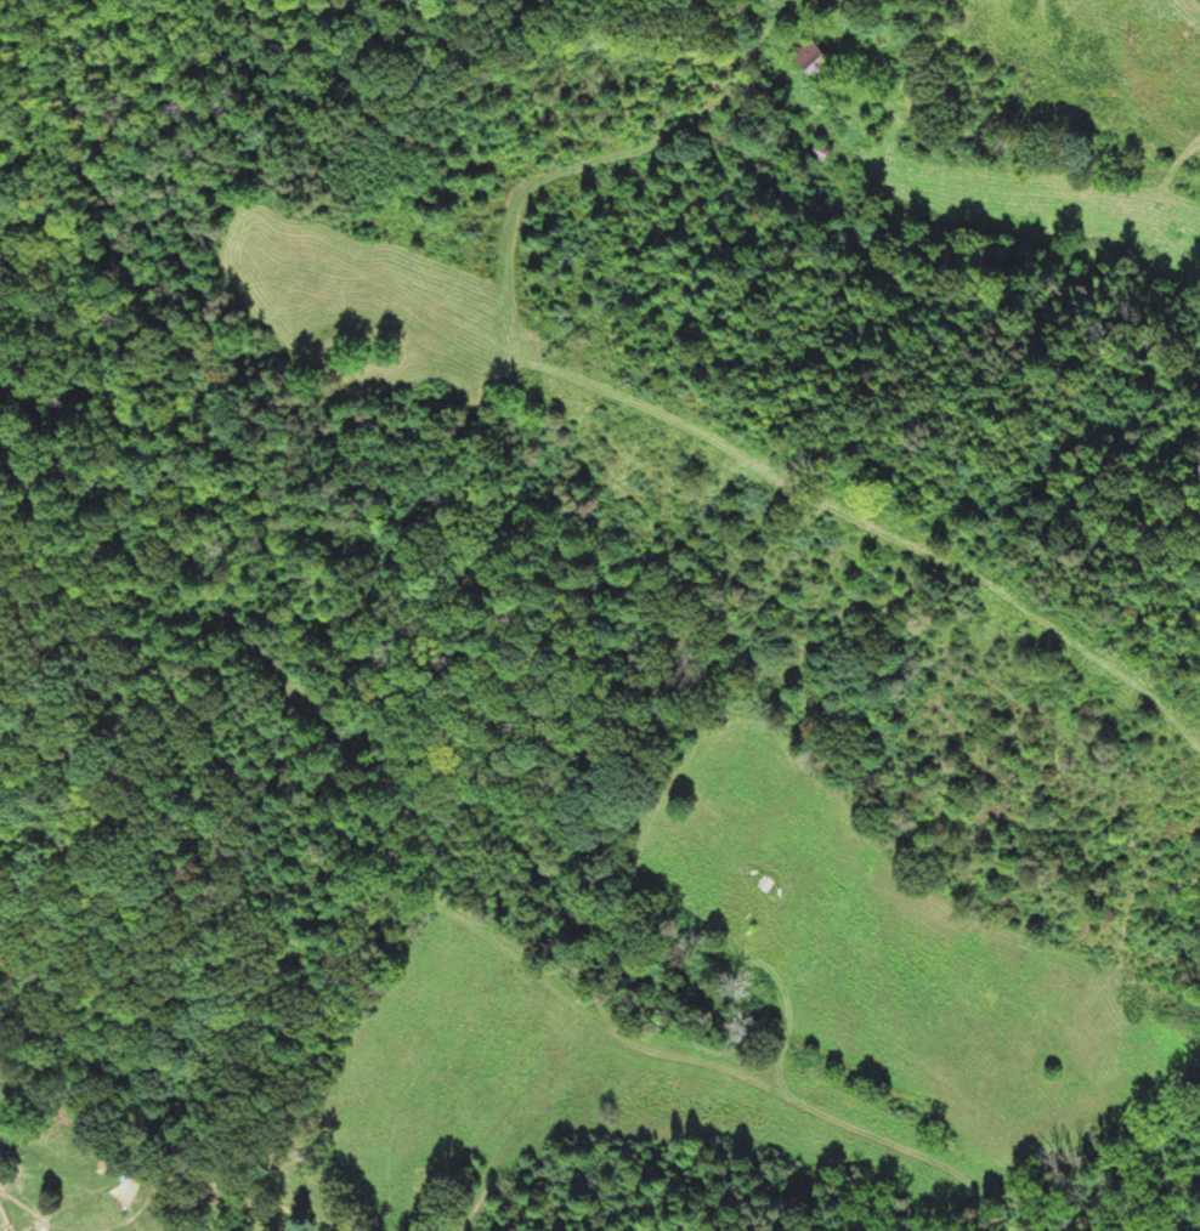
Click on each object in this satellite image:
building: (809, 57)
building: (819, 155)
road: (584, 158)
road: (598, 385)
road: (1065, 1155)

